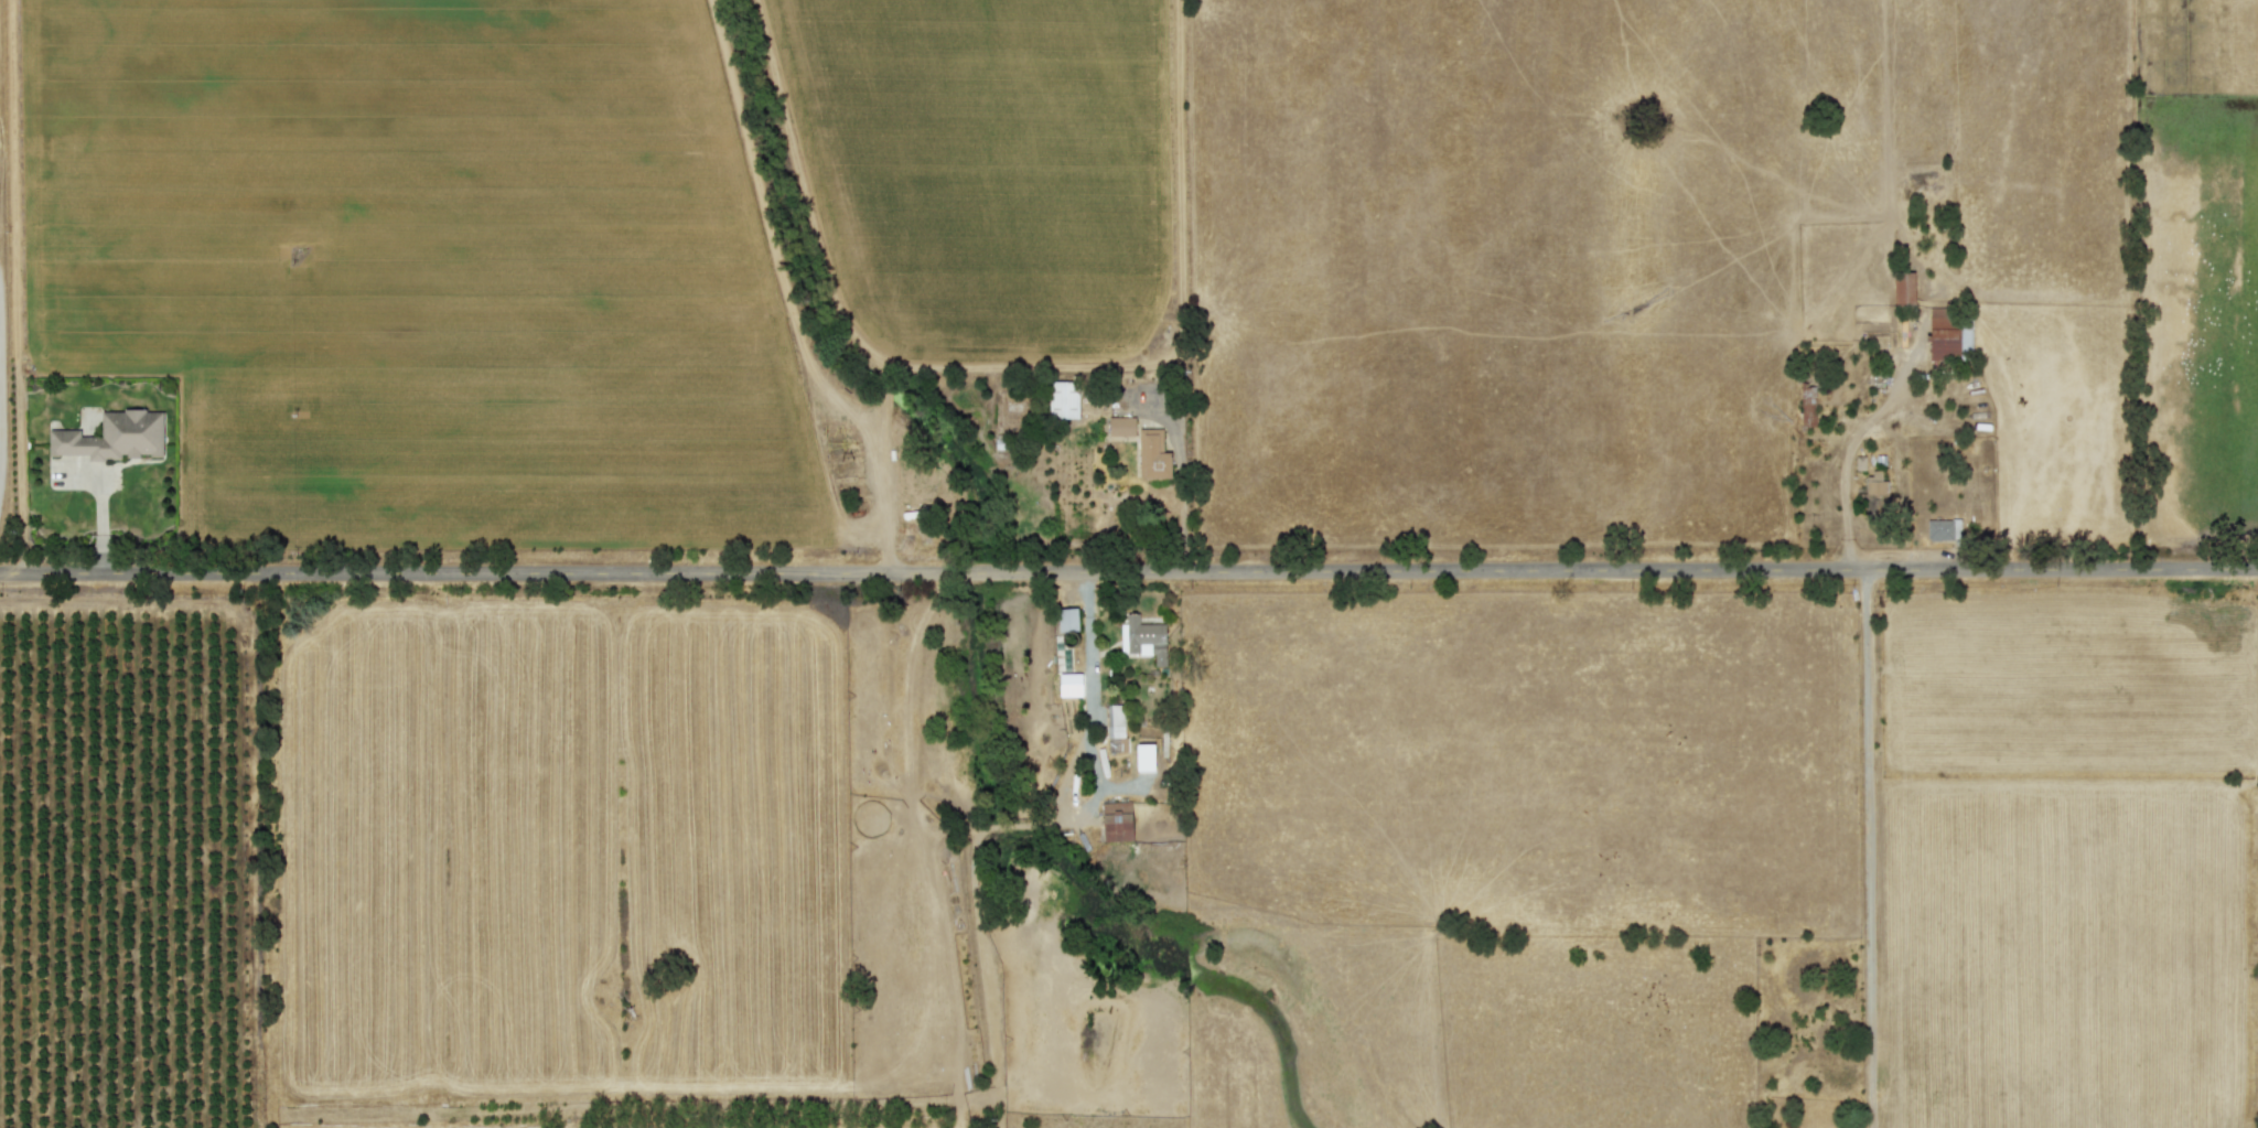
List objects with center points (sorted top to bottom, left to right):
building: (1903, 287)
building: (1943, 334)
building: (1063, 399)
building: (1807, 406)
building: (1121, 425)
building: (114, 436)
building: (1152, 454)
road: (1183, 486)
building: (1875, 492)
building: (1943, 528)
crop: (1129, 563)
road: (1129, 570)
building: (1067, 619)
building: (1146, 637)
road: (1087, 653)
building: (1071, 677)
building: (1115, 720)
building: (1116, 820)
road: (1867, 847)

